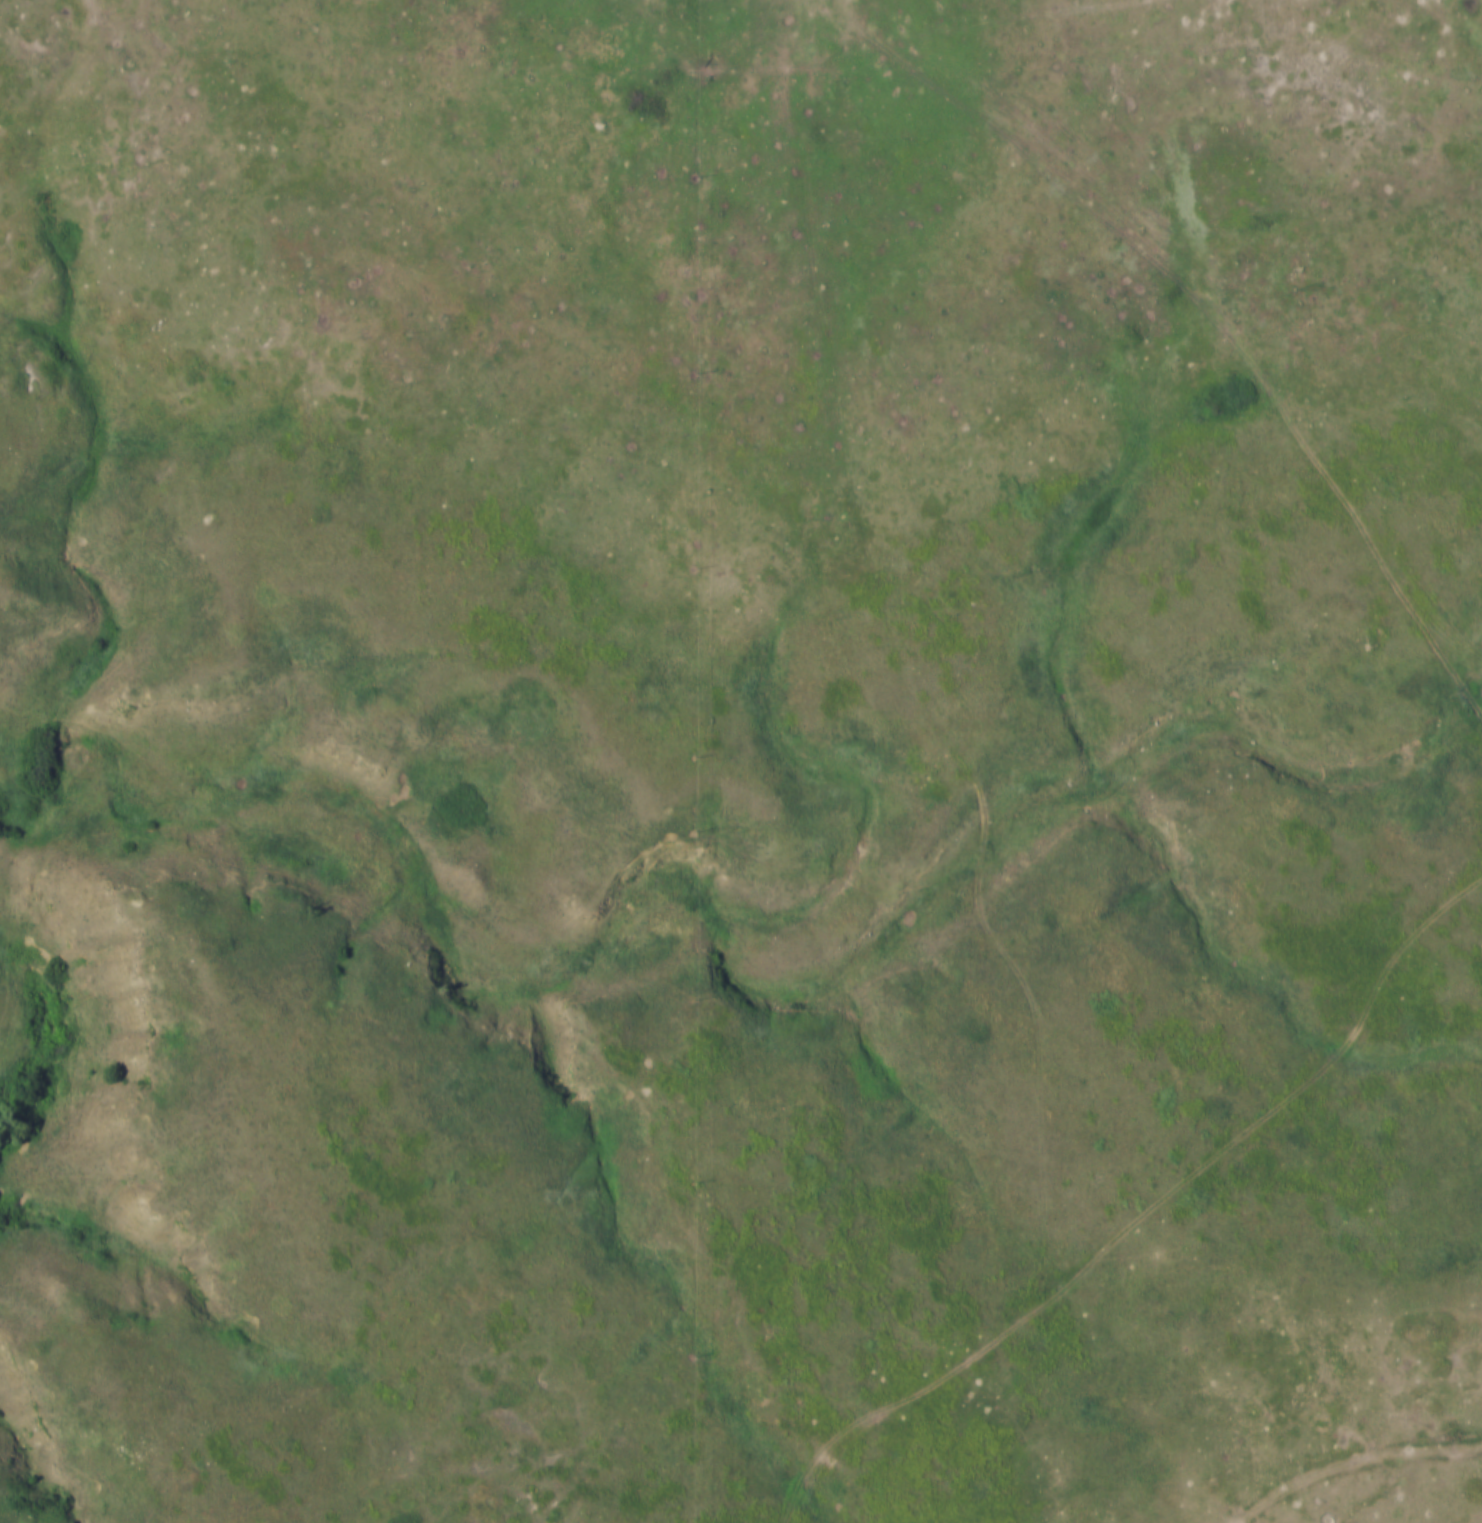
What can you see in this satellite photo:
road: (1351, 1460)

